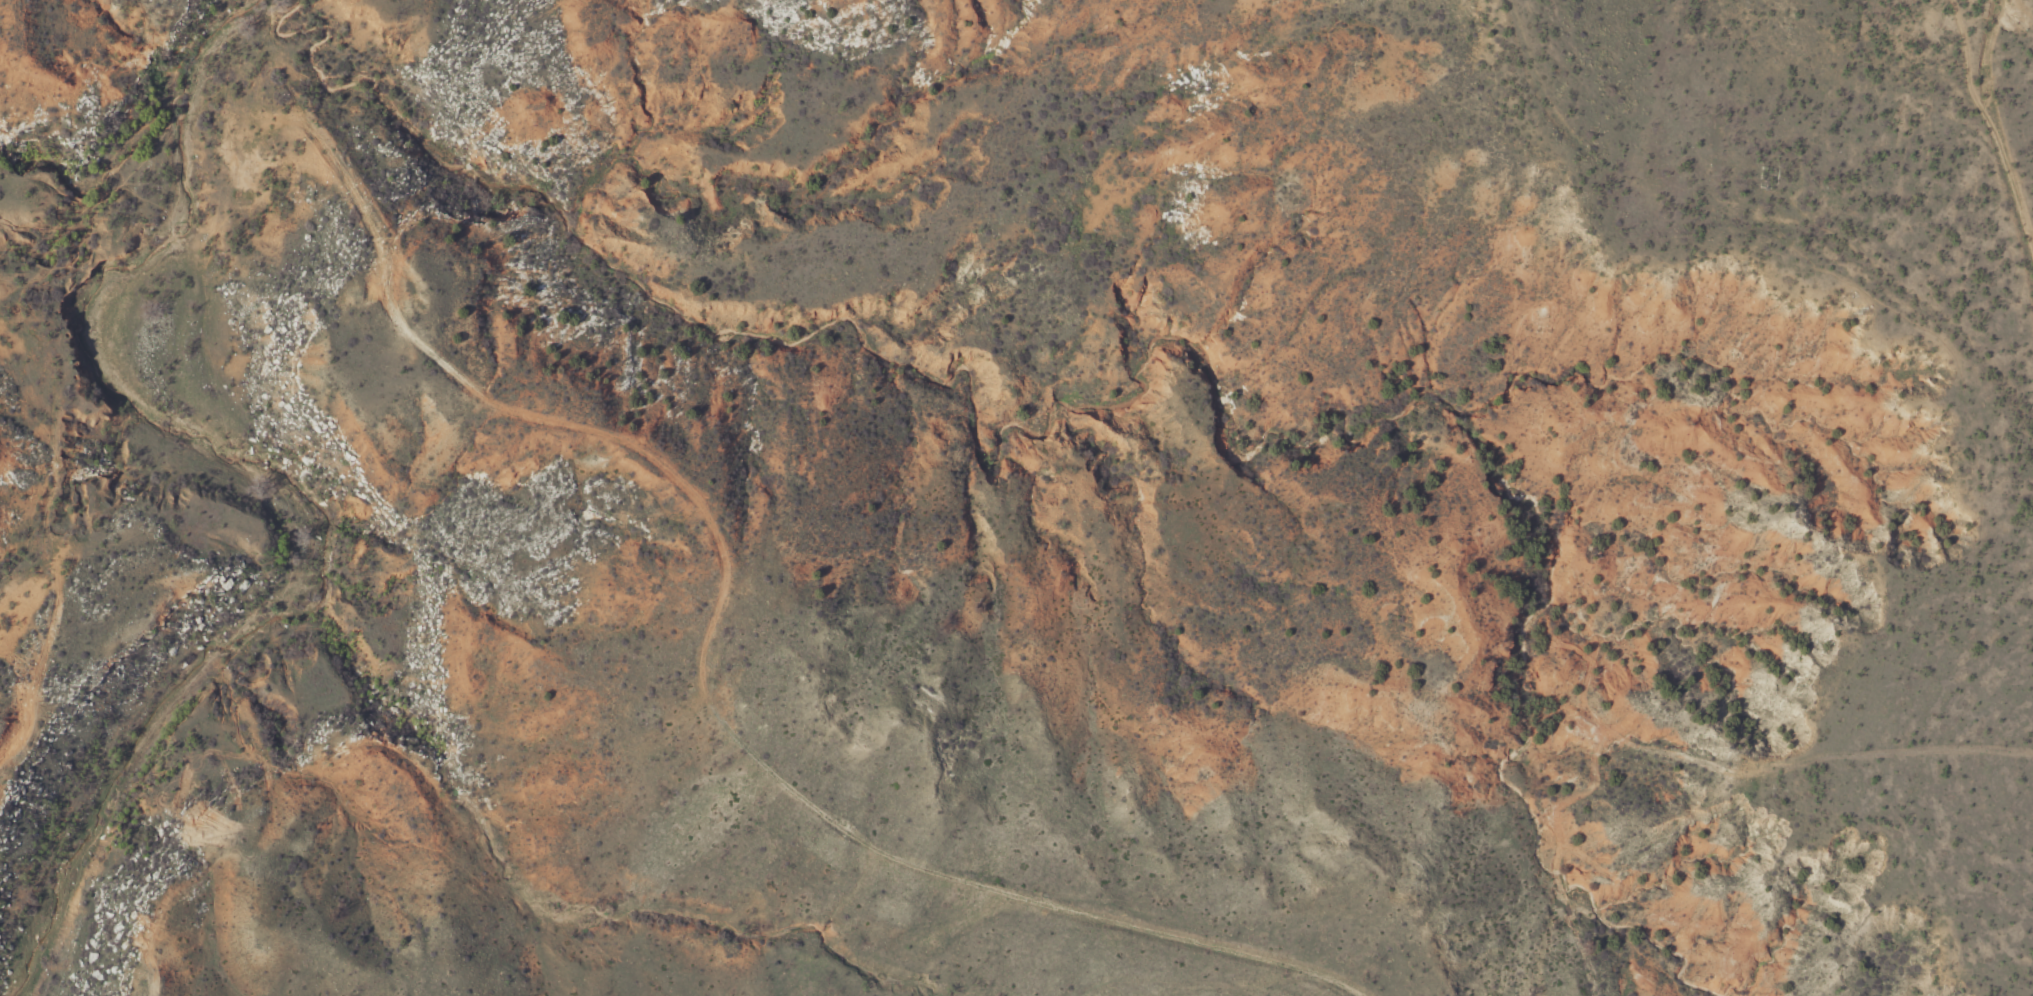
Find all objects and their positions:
road: (1992, 129)

